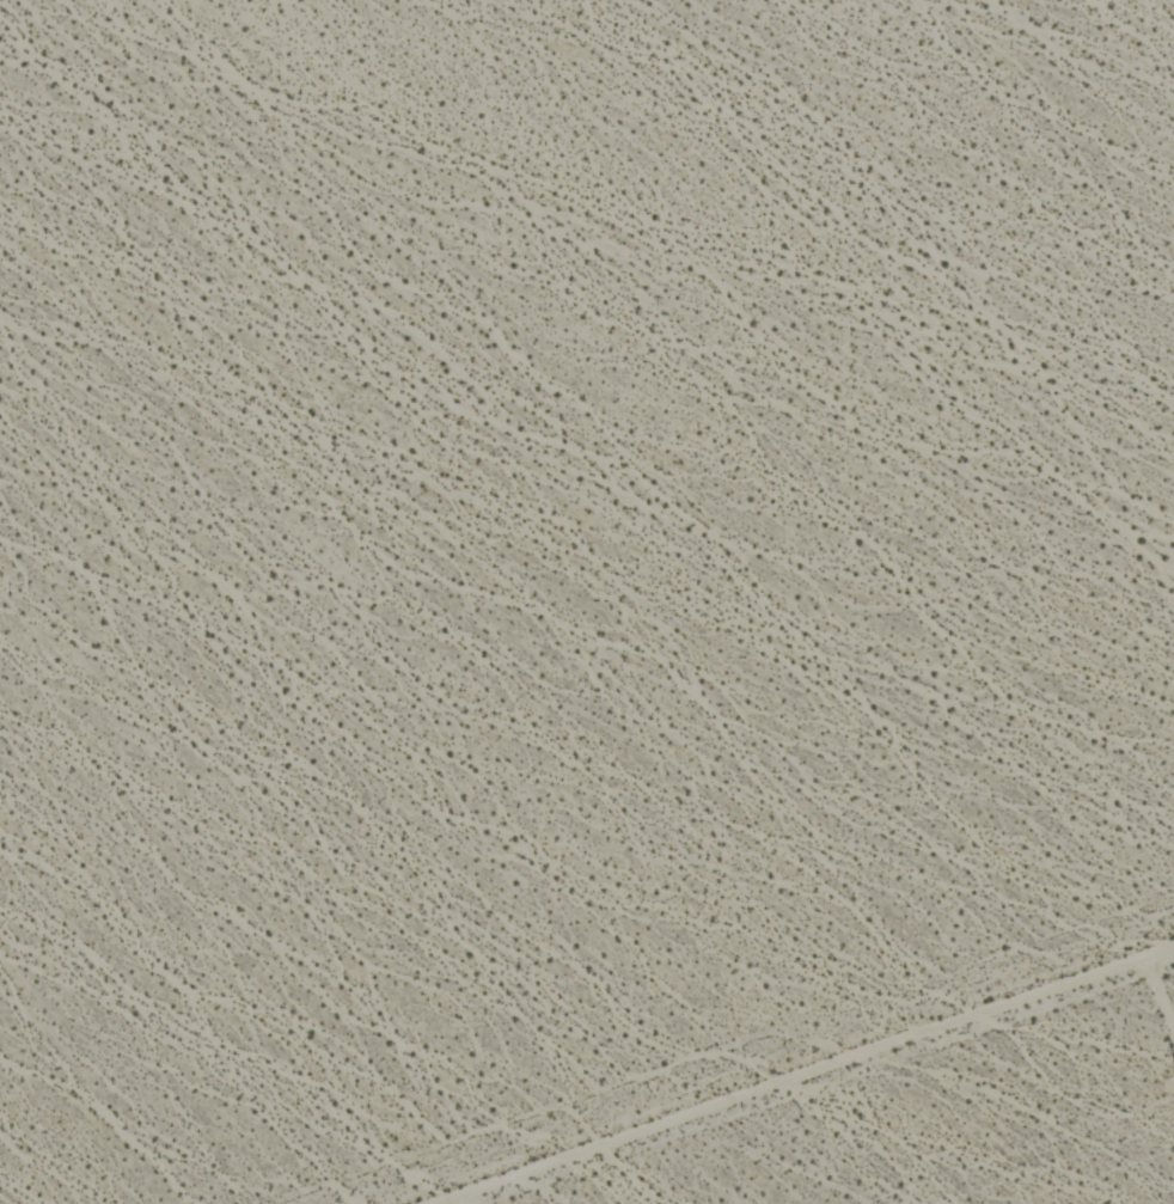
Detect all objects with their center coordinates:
road: (751, 1058)

